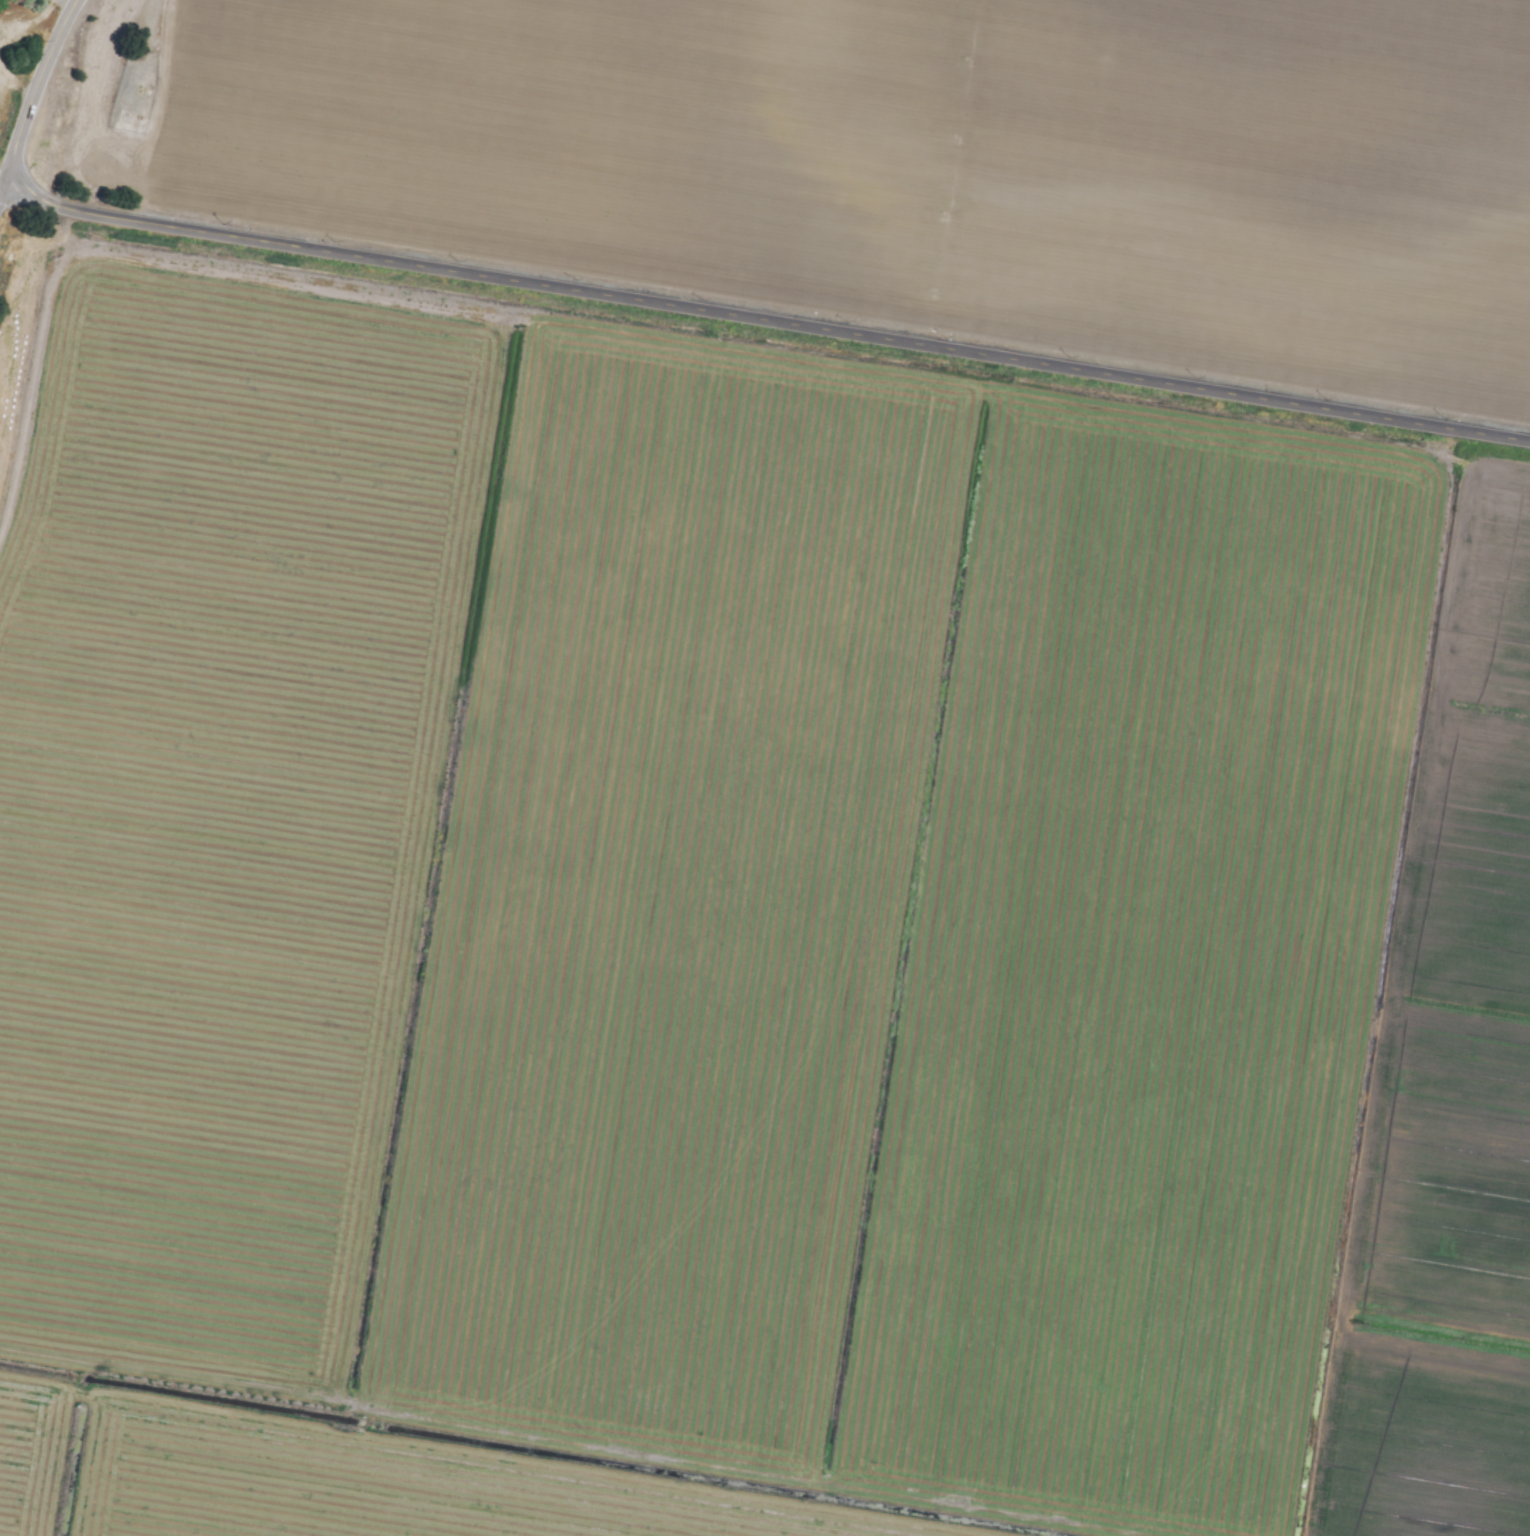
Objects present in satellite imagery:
crop: (7, 65)
road: (34, 95)
road: (765, 322)
crop: (775, 777)

